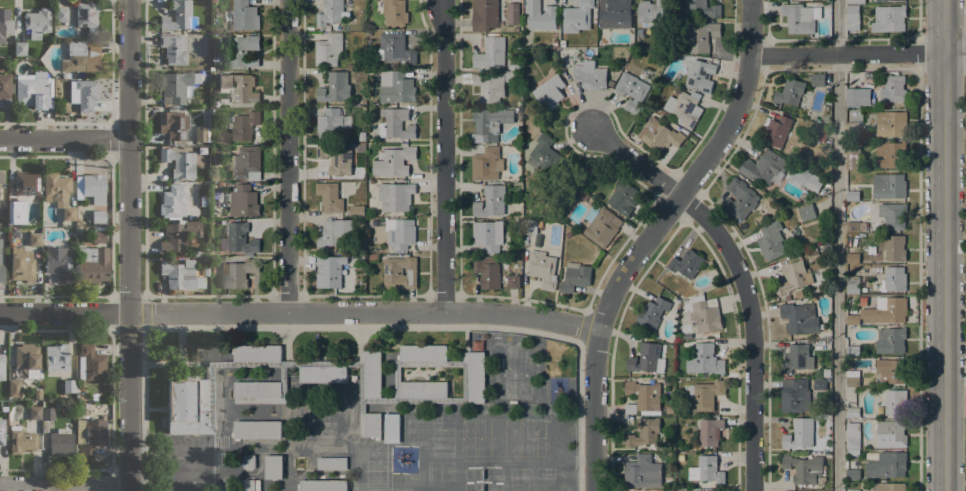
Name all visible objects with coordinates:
building: (888, 0)
building: (855, 1)
building: (703, 8)
building: (651, 11)
building: (330, 12)
building: (394, 12)
building: (512, 13)
building: (61, 14)
building: (484, 14)
building: (614, 14)
building: (87, 16)
building: (179, 16)
building: (244, 16)
building: (539, 16)
road: (965, 16)
building: (576, 17)
building: (799, 17)
building: (852, 18)
road: (919, 18)
building: (888, 19)
building: (37, 22)
building: (5, 23)
building: (515, 29)
building: (702, 37)
building: (562, 43)
building: (20, 48)
building: (173, 48)
building: (328, 49)
building: (395, 49)
road: (965, 49)
building: (242, 50)
road: (920, 52)
road: (955, 52)
road: (847, 53)
building: (492, 55)
building: (82, 56)
building: (590, 75)
building: (701, 75)
building: (817, 80)
building: (492, 85)
building: (176, 86)
building: (335, 87)
building: (396, 87)
building: (893, 89)
building: (5, 90)
building: (31, 90)
building: (240, 90)
building: (631, 91)
building: (549, 93)
building: (791, 93)
building: (84, 94)
building: (852, 103)
building: (864, 105)
building: (684, 108)
building: (800, 111)
building: (660, 112)
building: (331, 123)
building: (395, 124)
building: (489, 124)
building: (891, 124)
building: (173, 125)
building: (245, 126)
building: (775, 130)
building: (852, 130)
building: (820, 132)
building: (201, 134)
building: (659, 135)
building: (361, 136)
road: (66, 140)
building: (784, 150)
building: (543, 153)
building: (891, 154)
road: (288, 155)
road: (445, 156)
building: (853, 158)
building: (333, 161)
building: (393, 161)
building: (179, 162)
building: (245, 163)
building: (487, 164)
building: (765, 168)
building: (1, 177)
building: (212, 178)
building: (804, 179)
building: (565, 183)
building: (221, 185)
building: (26, 186)
building: (92, 187)
building: (891, 187)
building: (58, 193)
building: (395, 196)
building: (851, 196)
building: (329, 197)
building: (622, 197)
building: (740, 199)
building: (173, 201)
building: (243, 201)
building: (490, 201)
building: (356, 210)
building: (807, 212)
building: (13, 215)
building: (893, 216)
building: (98, 218)
building: (601, 225)
building: (531, 226)
building: (852, 227)
building: (334, 233)
building: (98, 234)
building: (178, 234)
building: (568, 234)
building: (402, 235)
building: (488, 235)
road: (649, 237)
building: (35, 238)
building: (240, 238)
building: (771, 240)
road: (131, 245)
road: (837, 245)
road: (945, 245)
building: (895, 248)
building: (197, 253)
building: (812, 254)
building: (373, 258)
building: (852, 258)
building: (205, 259)
building: (58, 263)
building: (21, 264)
building: (92, 264)
building: (686, 264)
building: (1, 266)
building: (542, 269)
building: (206, 271)
building: (329, 271)
building: (238, 272)
building: (488, 272)
building: (400, 273)
building: (181, 275)
building: (575, 277)
building: (793, 277)
road: (744, 278)
building: (893, 279)
road: (919, 279)
building: (513, 281)
building: (852, 285)
building: (677, 295)
building: (787, 297)
building: (864, 300)
building: (886, 310)
road: (300, 311)
building: (652, 312)
building: (704, 314)
building: (800, 318)
building: (852, 320)
road: (355, 326)
building: (892, 341)
building: (852, 350)
building: (203, 353)
building: (257, 353)
building: (422, 353)
building: (26, 356)
building: (56, 357)
building: (645, 358)
building: (796, 359)
building: (704, 360)
building: (90, 363)
building: (1, 366)
building: (891, 370)
building: (826, 372)
building: (322, 374)
building: (373, 374)
building: (364, 376)
building: (476, 377)
building: (852, 378)
building: (819, 384)
building: (69, 385)
building: (14, 387)
building: (423, 389)
building: (260, 392)
building: (36, 394)
building: (705, 395)
building: (794, 395)
building: (80, 396)
building: (643, 398)
building: (893, 401)
building: (189, 404)
building: (669, 410)
building: (852, 410)
building: (35, 412)
building: (48, 413)
building: (370, 425)
building: (391, 428)
building: (256, 429)
building: (2, 431)
building: (709, 431)
building: (644, 433)
building: (799, 433)
building: (890, 434)
building: (90, 435)
building: (853, 436)
building: (20, 440)
building: (61, 442)
building: (680, 457)
building: (248, 462)
building: (331, 463)
building: (893, 464)
building: (273, 467)
building: (803, 468)
building: (706, 470)
building: (642, 472)
building: (852, 475)
road: (64, 483)
building: (251, 485)
building: (322, 485)
building: (889, 487)
building: (791, 490)
building: (852, 490)

